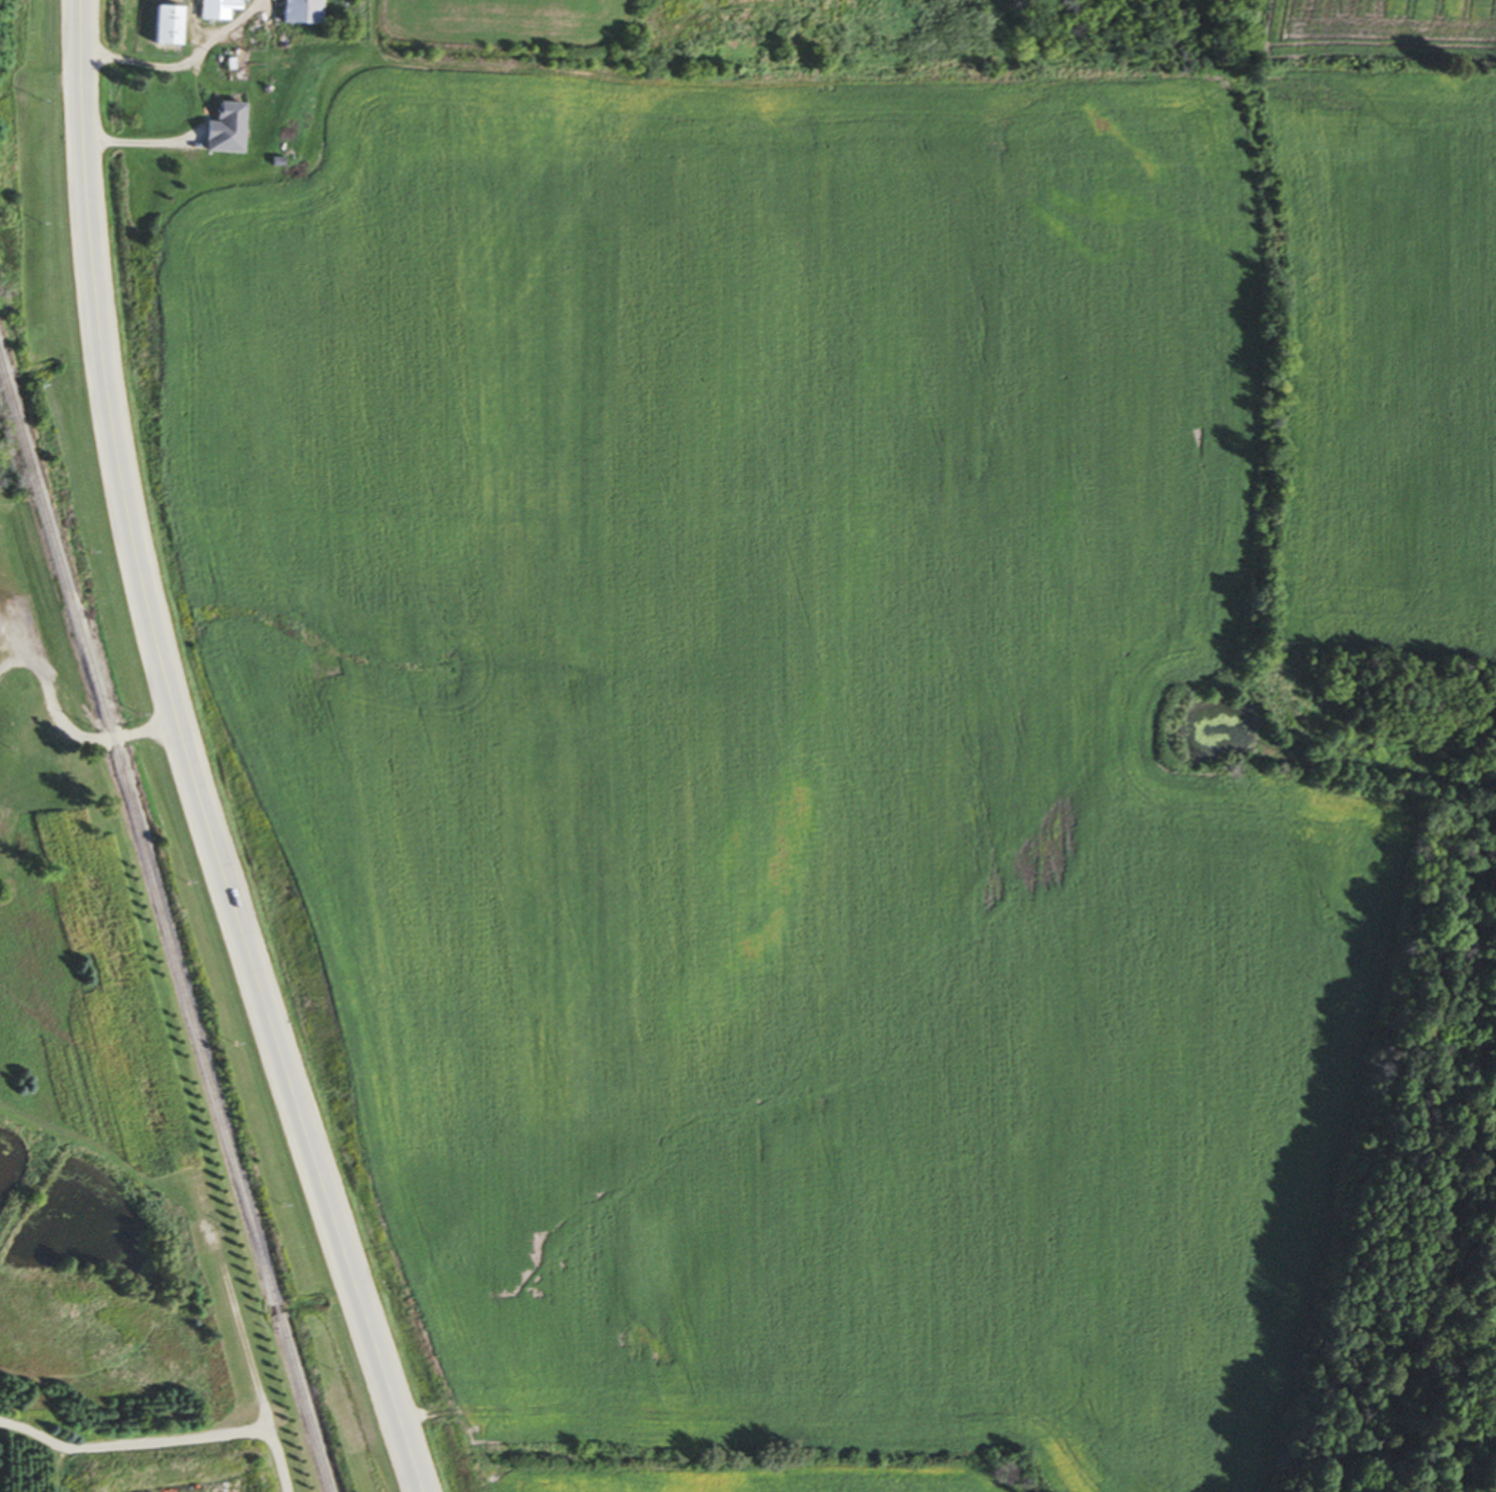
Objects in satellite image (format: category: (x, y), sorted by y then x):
building: (220, 9)
building: (306, 12)
building: (173, 25)
road: (184, 65)
building: (164, 108)
building: (210, 139)
landfill: (2, 490)
road: (59, 722)
road: (189, 759)
building: (55, 795)
railway: (139, 830)
building: (204, 1196)
railway: (277, 1311)
railway: (304, 1403)

